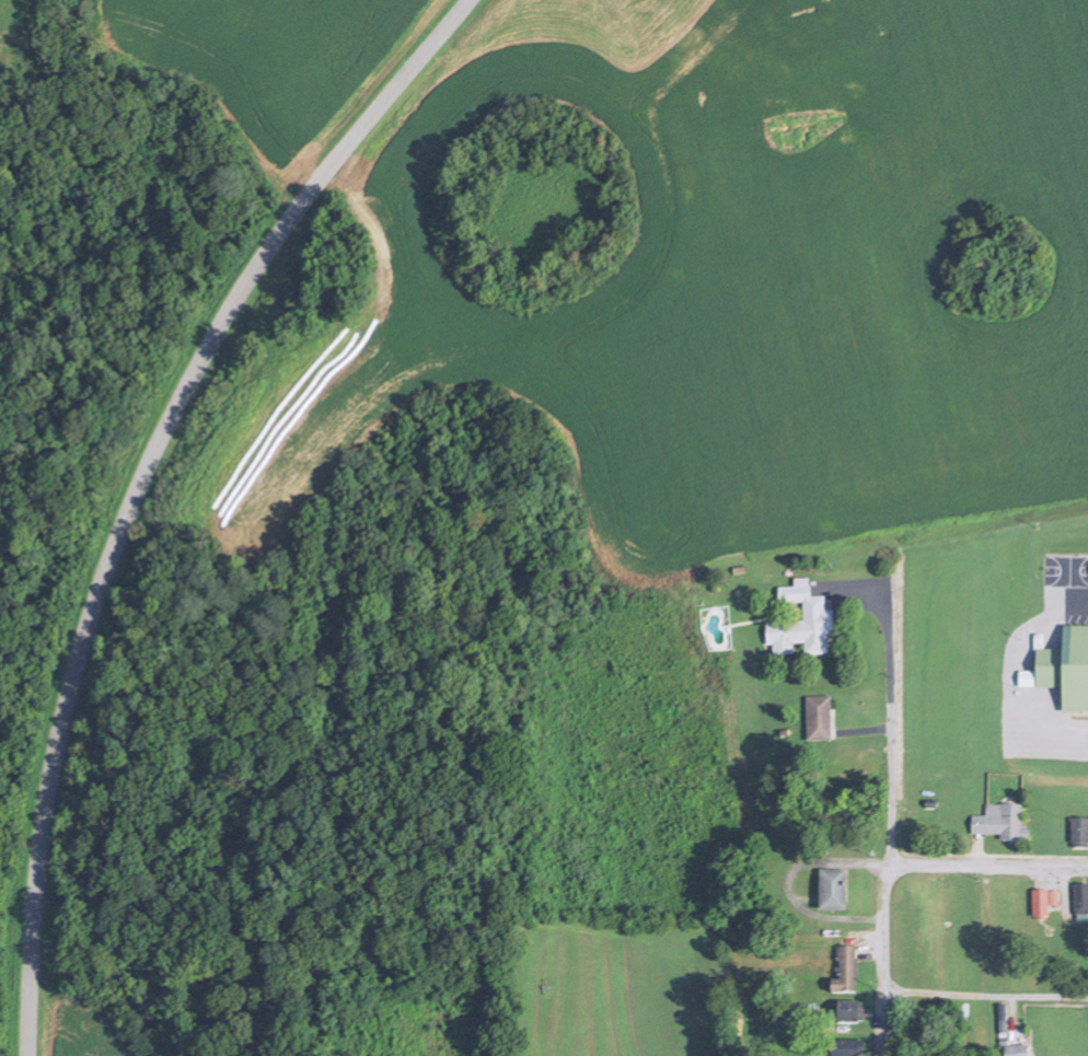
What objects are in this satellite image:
road: (140, 483)
park: (1066, 567)
road: (869, 599)
parking lot: (1076, 601)
building: (798, 627)
building: (1066, 665)
road: (1008, 674)
building: (815, 720)
road: (865, 728)
building: (997, 821)
building: (833, 825)
building: (1077, 828)
road: (889, 837)
road: (975, 851)
road: (987, 866)
road: (787, 883)
road: (1060, 883)
building: (829, 892)
building: (1078, 897)
building: (1039, 902)
building: (841, 971)
road: (986, 993)
building: (845, 1009)
road: (1006, 1014)
building: (843, 1043)
building: (1014, 1049)

